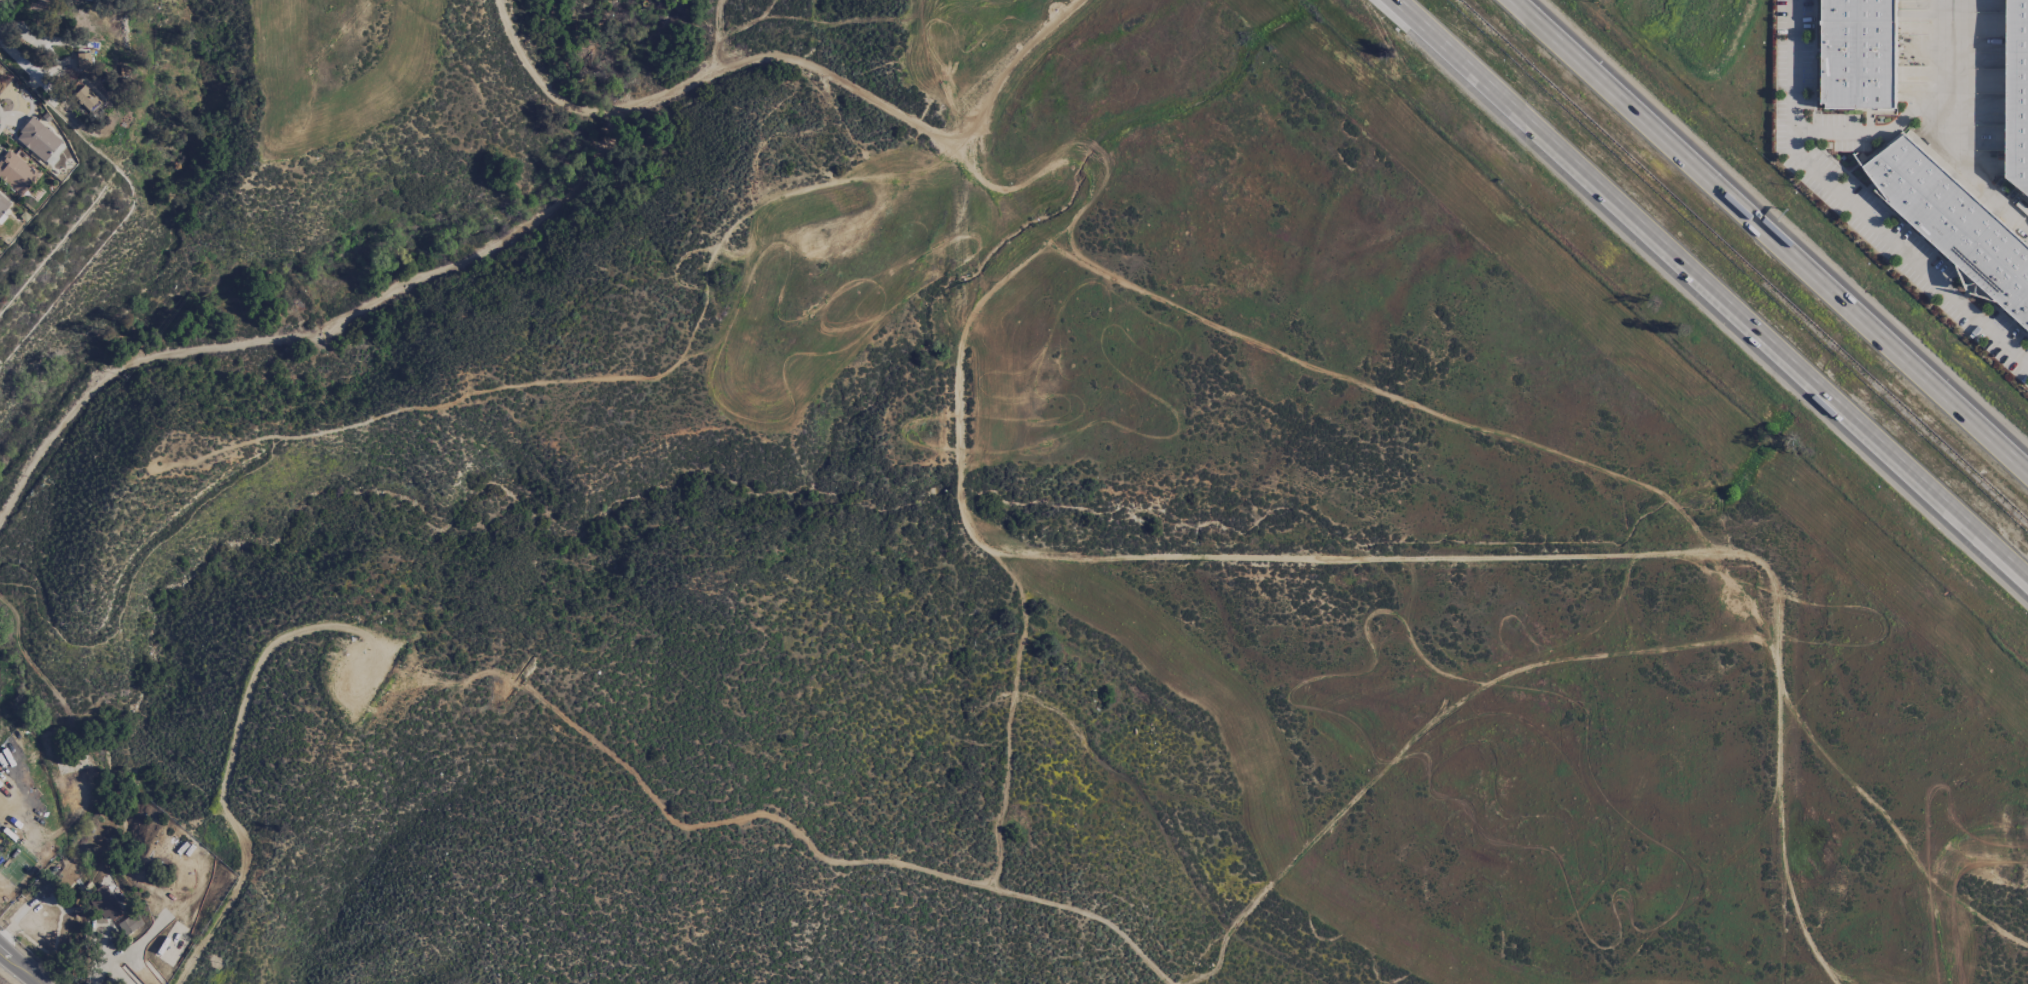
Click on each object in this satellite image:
building: (1859, 53)
road: (21, 61)
building: (82, 61)
building: (2017, 94)
building: (86, 100)
road: (1954, 128)
road: (1880, 133)
building: (37, 138)
building: (54, 154)
building: (15, 172)
building: (3, 205)
road: (1853, 207)
building: (1954, 223)
road: (1770, 235)
road: (1710, 290)
road: (958, 469)
road: (1780, 777)
building: (106, 902)
building: (130, 924)
road: (19, 967)

